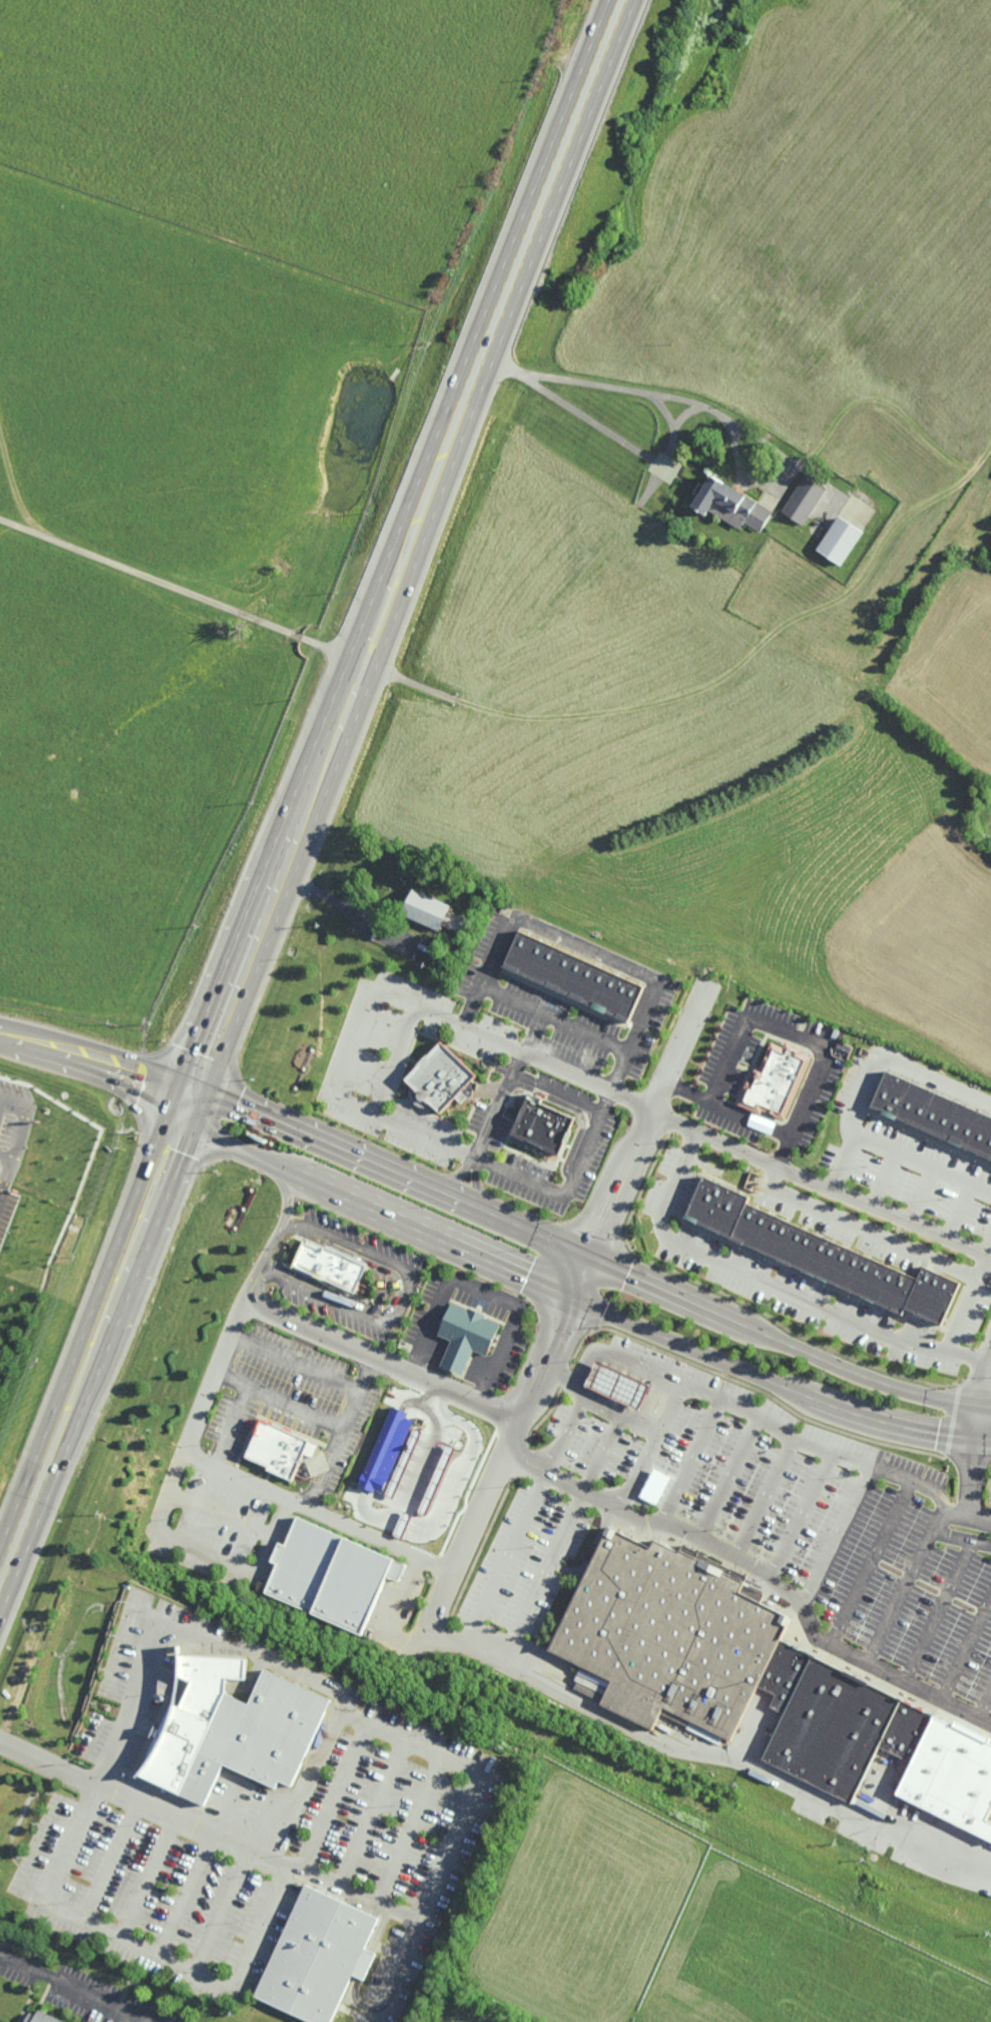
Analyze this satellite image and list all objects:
road: (634, 389)
road: (11, 482)
building: (802, 502)
building: (727, 505)
building: (837, 541)
road: (406, 548)
road: (182, 584)
road: (442, 693)
road: (342, 904)
building: (423, 909)
building: (569, 979)
road: (490, 991)
road: (782, 1033)
road: (597, 1040)
road: (99, 1051)
road: (394, 1059)
road: (874, 1069)
building: (435, 1078)
building: (774, 1078)
traffic signals: (198, 1079)
road: (498, 1103)
road: (0, 1104)
road: (354, 1104)
building: (932, 1113)
road: (684, 1122)
traffic signals: (180, 1124)
building: (538, 1126)
road: (641, 1137)
road: (924, 1165)
road: (4, 1170)
road: (567, 1185)
road: (858, 1230)
building: (816, 1255)
road: (588, 1258)
building: (326, 1264)
road: (482, 1291)
road: (580, 1298)
road: (793, 1298)
road: (400, 1302)
building: (461, 1336)
road: (95, 1339)
road: (223, 1348)
road: (989, 1349)
road: (965, 1356)
road: (378, 1361)
road: (308, 1367)
road: (558, 1375)
building: (615, 1384)
road: (277, 1397)
road: (735, 1407)
road: (617, 1415)
road: (229, 1423)
road: (976, 1427)
road: (425, 1440)
road: (648, 1445)
road: (332, 1448)
building: (273, 1449)
building: (386, 1450)
road: (689, 1461)
road: (493, 1472)
road: (727, 1478)
building: (653, 1486)
road: (765, 1498)
road: (316, 1510)
road: (799, 1515)
road: (838, 1536)
road: (961, 1537)
road: (588, 1554)
road: (504, 1557)
road: (870, 1563)
road: (759, 1571)
building: (324, 1575)
road: (538, 1575)
road: (904, 1586)
road: (391, 1609)
road: (938, 1610)
road: (966, 1650)
building: (737, 1672)
road: (984, 1704)
building: (226, 1729)
road: (408, 1741)
road: (706, 1753)
road: (335, 1795)
road: (374, 1812)
parking lot: (385, 1824)
road: (409, 1829)
road: (258, 1859)
road: (109, 1862)
road: (148, 1879)
road: (184, 1896)
road: (46, 1897)
road: (222, 1912)
building: (315, 1957)
road: (69, 1986)
building: (43, 2017)

